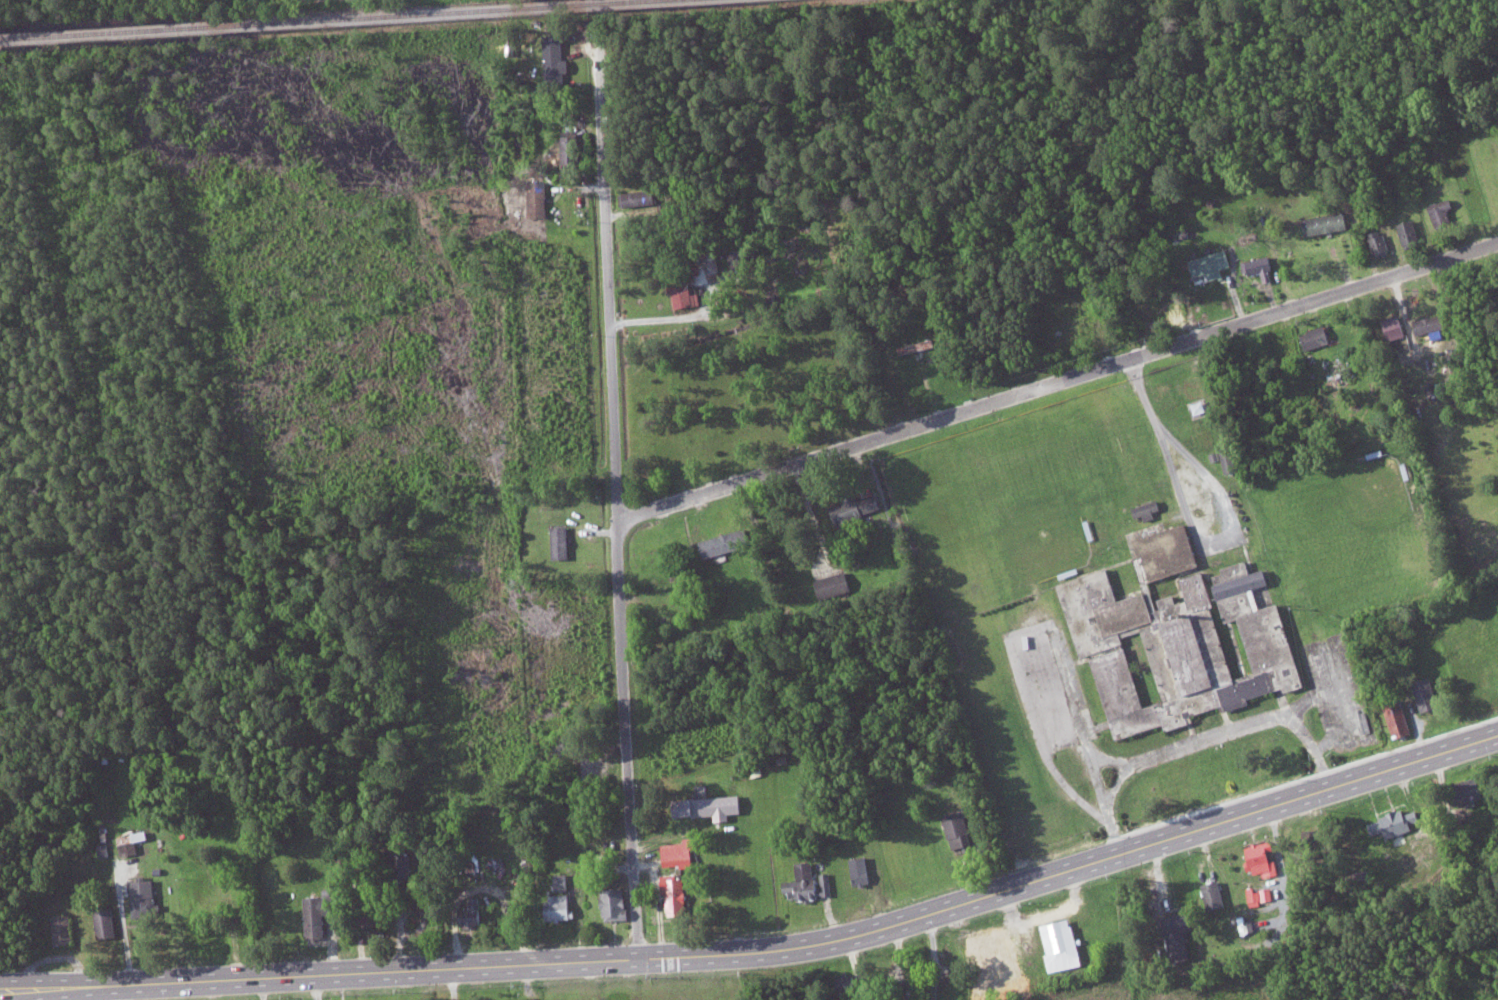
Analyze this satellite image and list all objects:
railway: (334, 19)
building: (557, 60)
building: (572, 150)
building: (641, 197)
building: (539, 198)
building: (1444, 212)
building: (1328, 222)
building: (1411, 232)
building: (1380, 242)
building: (745, 256)
road: (1275, 258)
building: (710, 259)
building: (1212, 264)
building: (1263, 267)
building: (685, 293)
building: (1433, 323)
building: (1396, 327)
building: (1317, 337)
building: (917, 345)
road: (1056, 382)
building: (1201, 407)
road: (1168, 447)
building: (1230, 458)
road: (615, 499)
building: (1149, 507)
building: (857, 508)
building: (562, 541)
building: (727, 541)
building: (1169, 550)
building: (835, 583)
building: (1180, 646)
building: (1429, 693)
building: (1400, 717)
road: (1197, 737)
building: (1475, 787)
building: (712, 805)
building: (962, 830)
building: (1403, 837)
building: (132, 842)
building: (680, 853)
building: (1263, 857)
building: (863, 870)
building: (563, 881)
building: (811, 882)
building: (1261, 894)
building: (145, 895)
building: (677, 895)
building: (1215, 895)
building: (616, 903)
building: (559, 906)
building: (320, 913)
building: (475, 913)
road: (132, 921)
building: (107, 922)
building: (64, 928)
building: (1181, 932)
building: (1063, 944)
road: (764, 952)
building: (998, 953)

